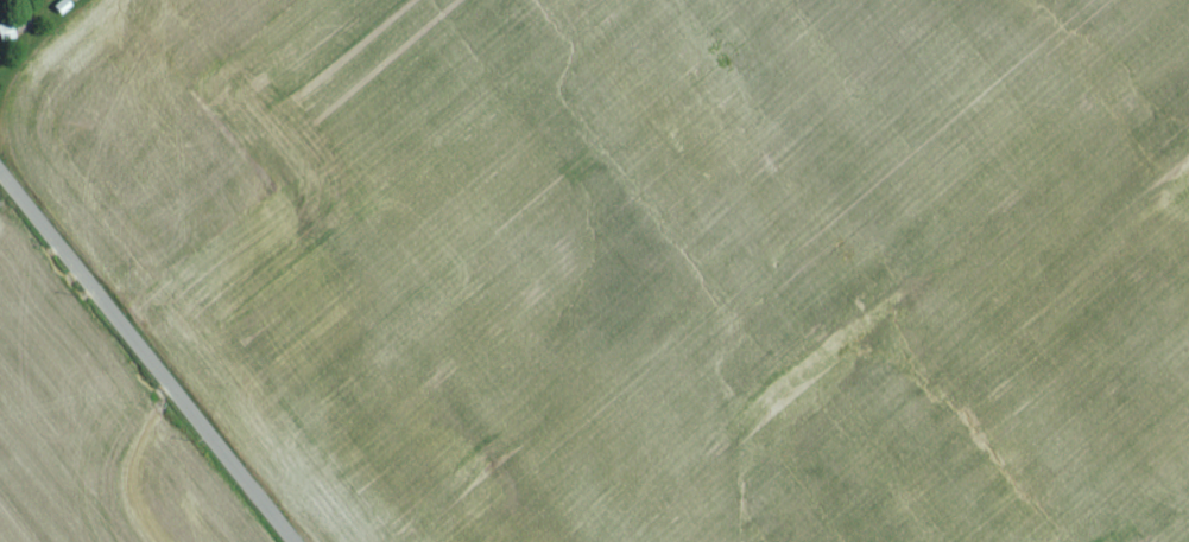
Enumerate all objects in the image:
road: (143, 363)

